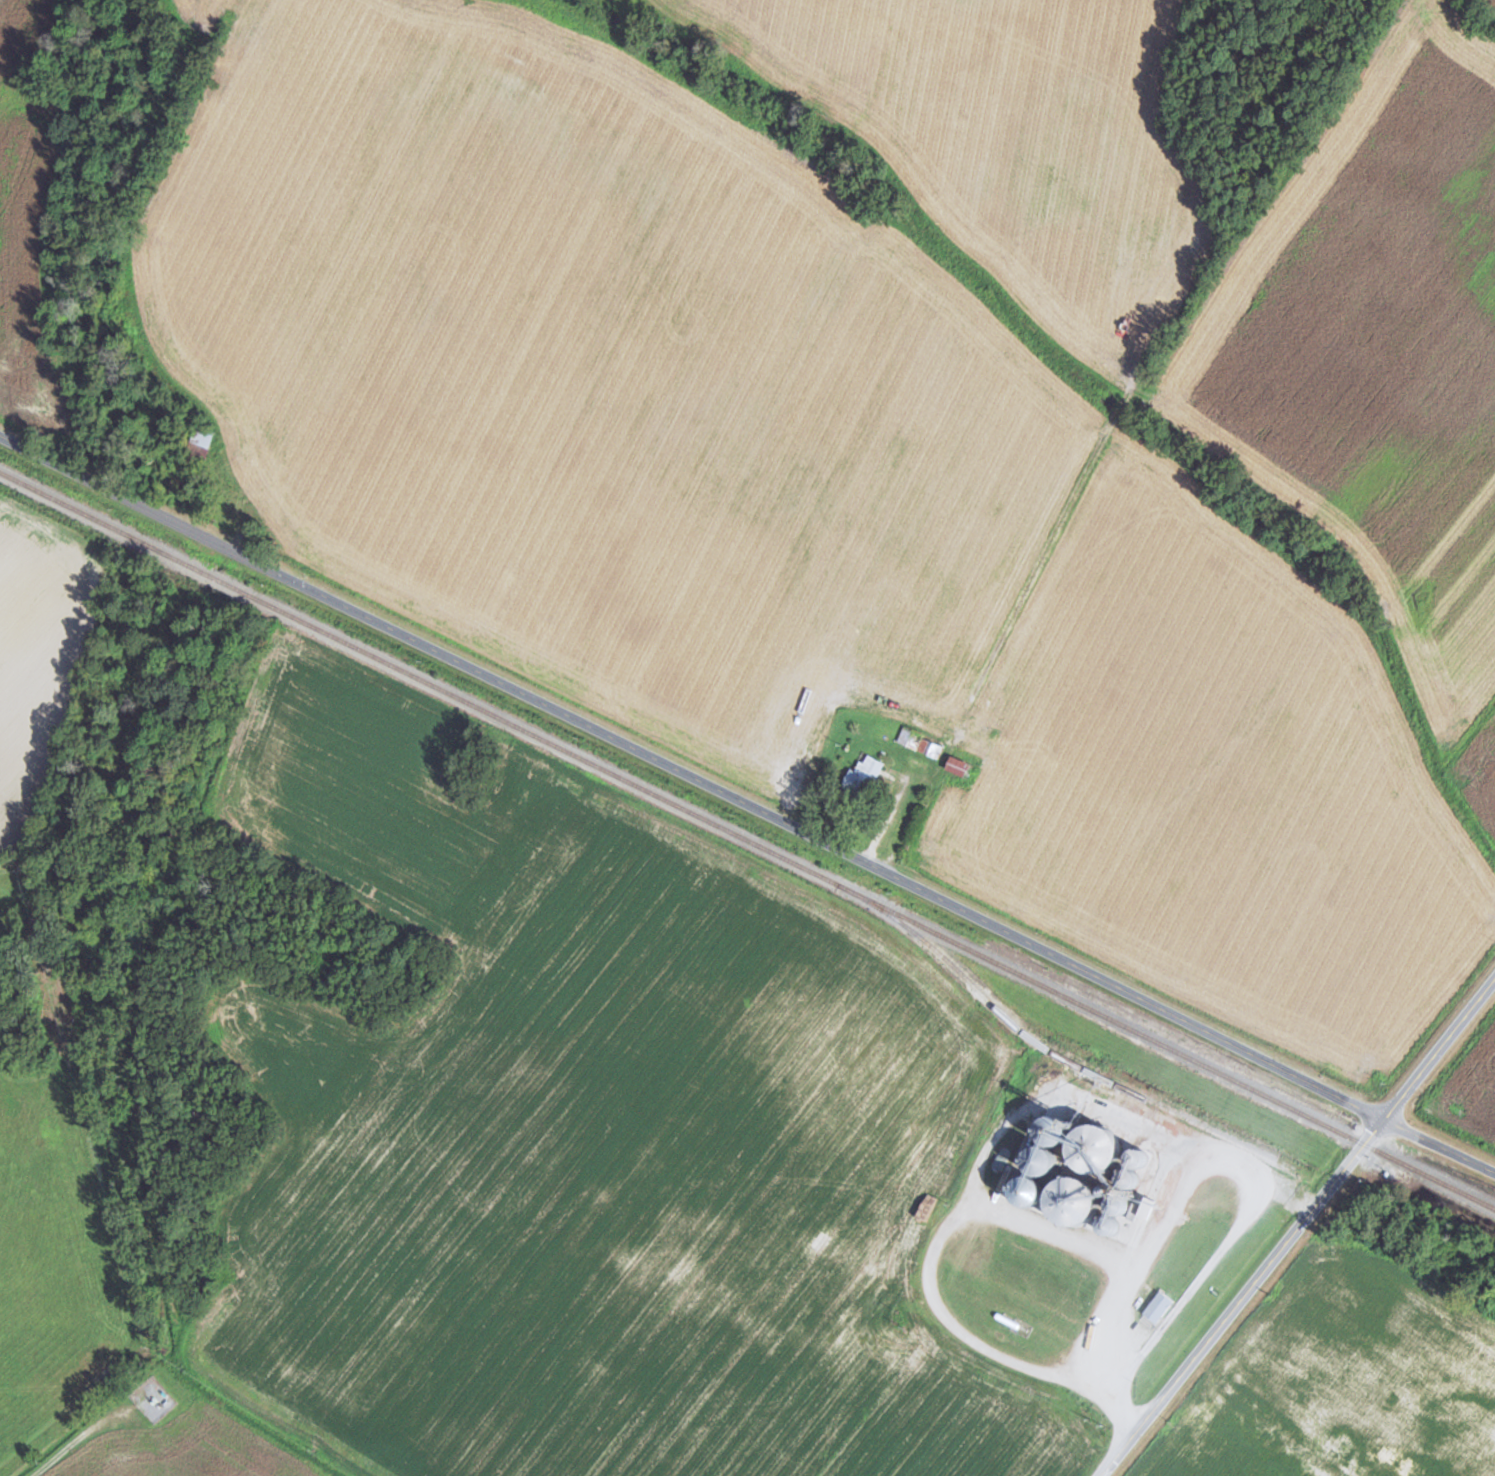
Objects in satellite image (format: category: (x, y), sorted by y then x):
building: (19, 353)
building: (55, 401)
building: (206, 437)
building: (289, 500)
building: (920, 741)
building: (961, 769)
building: (866, 772)
road: (748, 801)
railway: (747, 840)
railway: (1062, 1058)
building: (1110, 1159)
building: (1090, 1202)
road: (1300, 1226)

